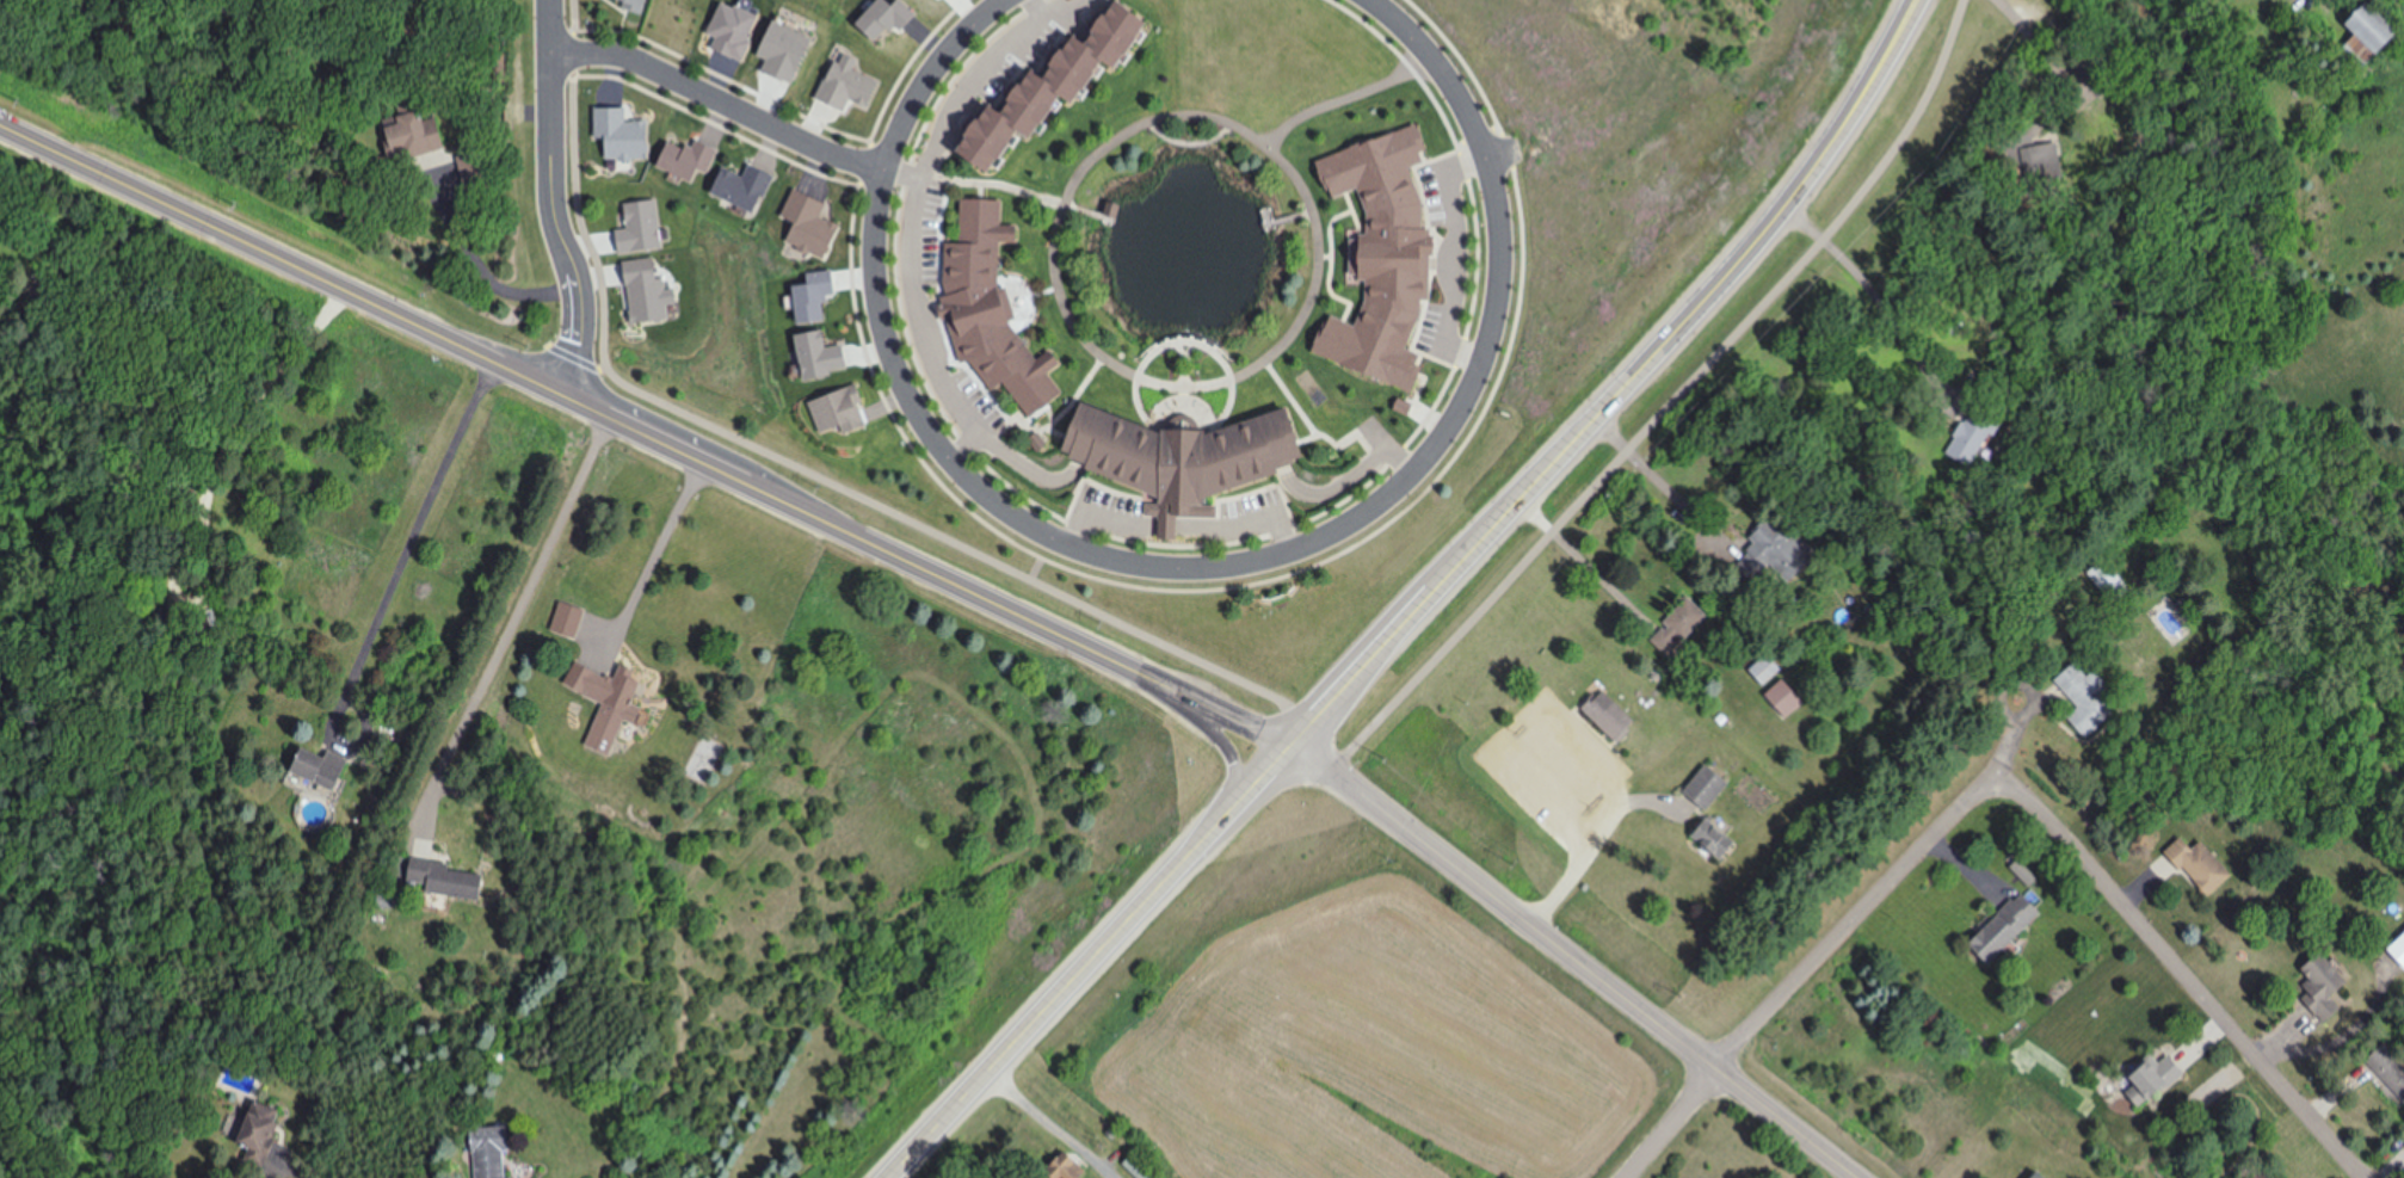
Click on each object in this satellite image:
building: (635, 4)
building: (2357, 33)
road: (2053, 53)
building: (1068, 88)
road: (719, 101)
building: (419, 135)
road: (1503, 150)
building: (2039, 162)
road: (553, 199)
park: (1185, 248)
road: (278, 257)
road: (1872, 291)
building: (993, 309)
park: (708, 356)
road: (577, 358)
road: (1627, 388)
road: (1670, 402)
building: (842, 411)
building: (1968, 438)
road: (692, 455)
building: (1192, 456)
road: (793, 464)
road: (1657, 476)
road: (414, 531)
road: (657, 548)
building: (1770, 548)
road: (1584, 562)
road: (1186, 568)
road: (995, 600)
road: (513, 618)
building: (571, 618)
building: (1673, 625)
building: (1758, 670)
building: (2081, 699)
building: (1776, 703)
building: (610, 714)
road: (1228, 714)
building: (1602, 717)
road: (1215, 739)
road: (2007, 744)
building: (327, 766)
road: (1264, 779)
building: (1697, 790)
road: (1597, 837)
building: (1707, 839)
building: (2193, 865)
building: (446, 878)
road: (1853, 920)
building: (1997, 929)
building: (2397, 954)
road: (1580, 960)
road: (2187, 975)
building: (2312, 985)
road: (1061, 994)
building: (2386, 1063)
building: (2146, 1075)
road: (1671, 1122)
road: (1050, 1124)
building: (261, 1130)
building: (2403, 1147)
building: (494, 1152)
building: (1139, 1166)
building: (1071, 1167)
building: (2029, 1176)

